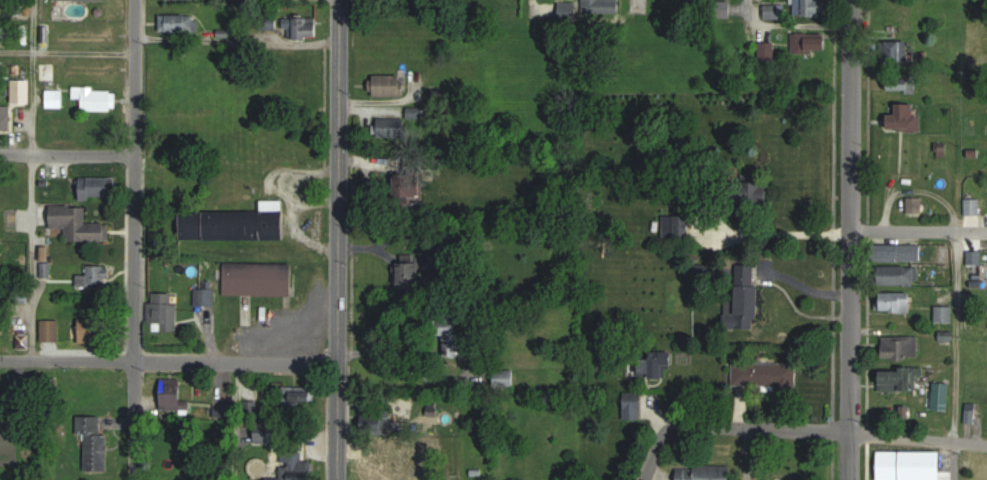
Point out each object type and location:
building: (78, 0)
road: (637, 4)
road: (531, 6)
building: (602, 7)
building: (811, 7)
building: (569, 11)
building: (179, 24)
road: (793, 24)
building: (301, 29)
building: (0, 35)
building: (810, 43)
building: (766, 51)
road: (68, 53)
building: (896, 53)
building: (48, 72)
building: (903, 83)
building: (390, 86)
building: (21, 92)
building: (55, 99)
building: (99, 100)
building: (907, 119)
building: (5, 121)
building: (393, 129)
road: (68, 153)
road: (33, 179)
building: (410, 187)
building: (99, 188)
building: (973, 208)
building: (236, 224)
building: (79, 225)
building: (677, 227)
road: (915, 231)
road: (780, 232)
road: (136, 239)
road: (844, 239)
road: (339, 240)
building: (1, 248)
building: (901, 253)
building: (899, 275)
building: (98, 278)
building: (259, 282)
building: (205, 298)
building: (746, 299)
building: (895, 302)
building: (163, 313)
building: (945, 314)
building: (93, 330)
building: (50, 331)
building: (454, 334)
road: (957, 337)
building: (901, 348)
road: (168, 360)
road: (407, 364)
building: (656, 365)
building: (765, 375)
building: (897, 380)
building: (176, 395)
building: (302, 395)
building: (633, 406)
road: (237, 421)
road: (730, 428)
building: (267, 432)
road: (918, 438)
building: (96, 447)
building: (376, 452)
road: (743, 455)
road: (956, 461)
building: (294, 464)
building: (705, 473)

